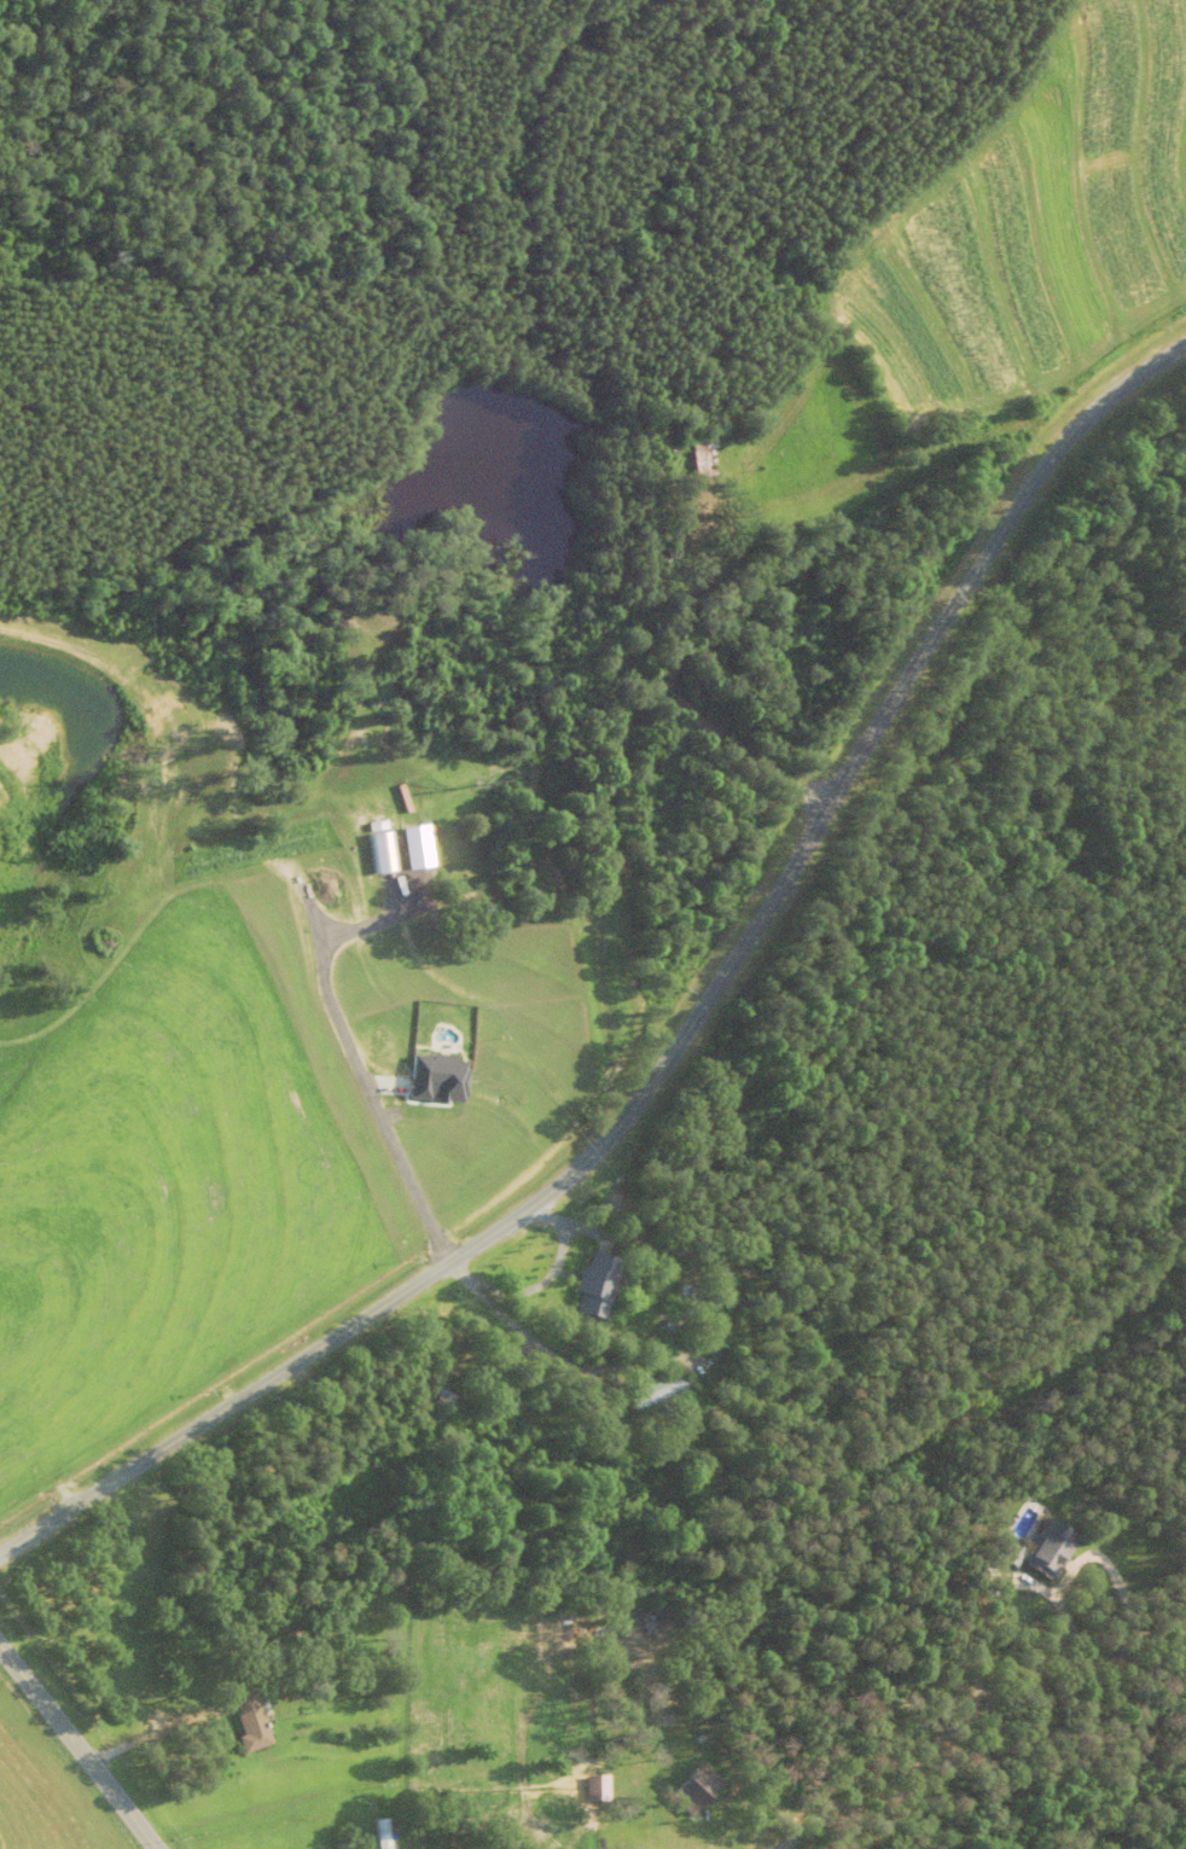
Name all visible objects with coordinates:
building: (705, 459)
road: (686, 1037)
building: (599, 1285)
building: (691, 1297)
building: (661, 1392)
building: (447, 1401)
building: (1045, 1549)
building: (481, 1708)
road: (973, 1709)
building: (251, 1722)
road: (79, 1748)
building: (697, 1791)
road: (822, 1815)
building: (384, 1833)

